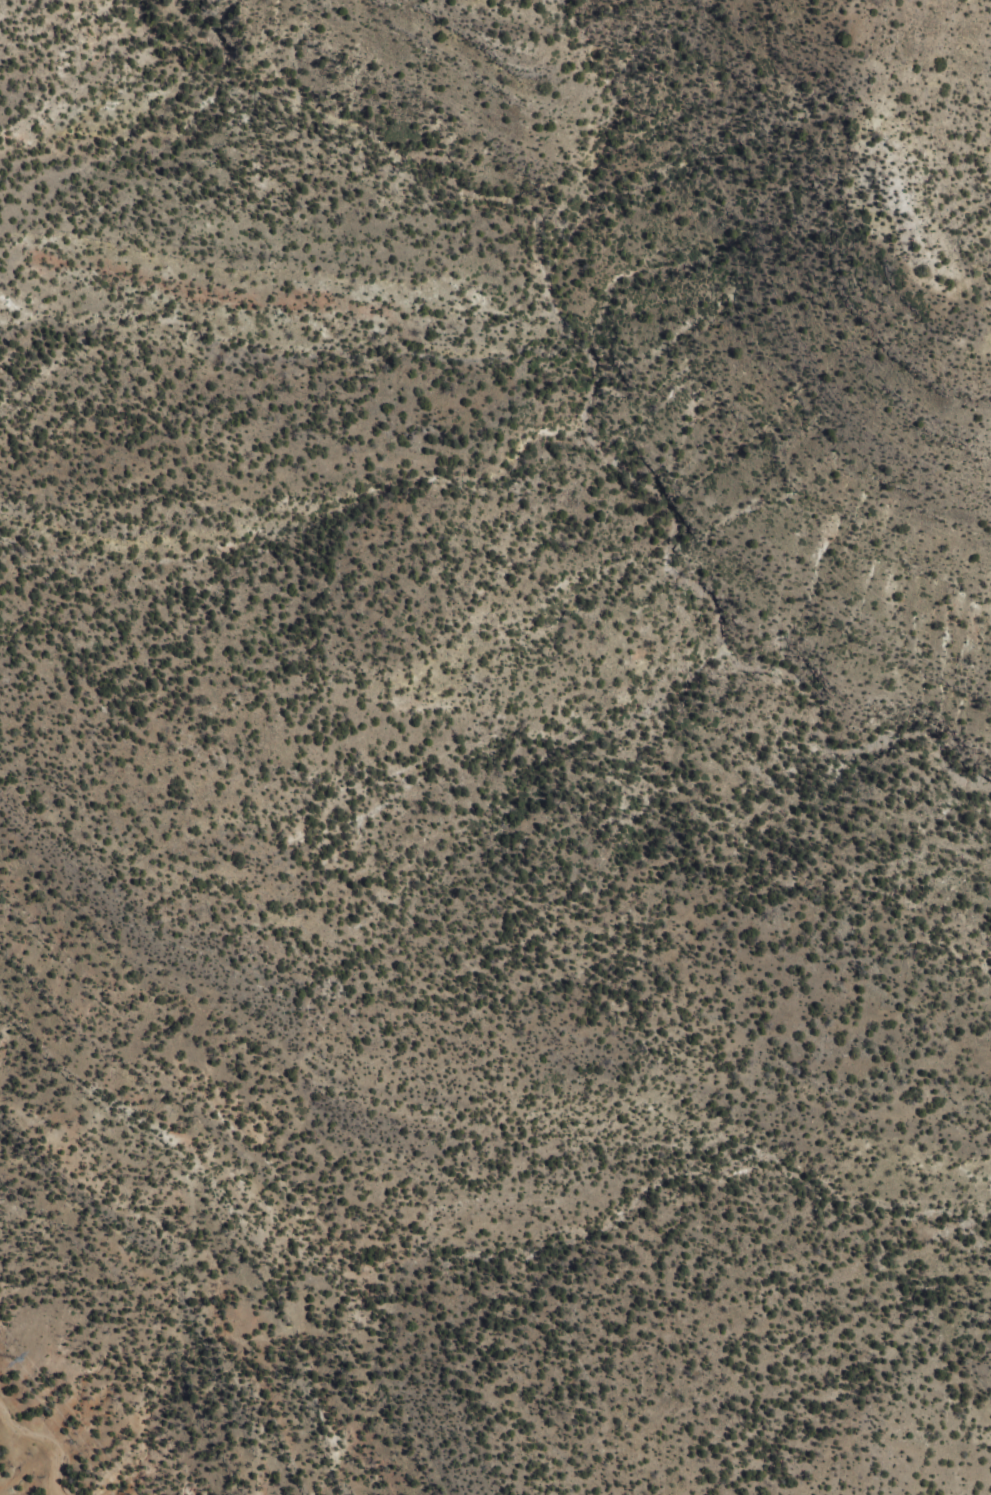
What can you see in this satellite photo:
power tower: (19, 1357)
road: (46, 1439)

